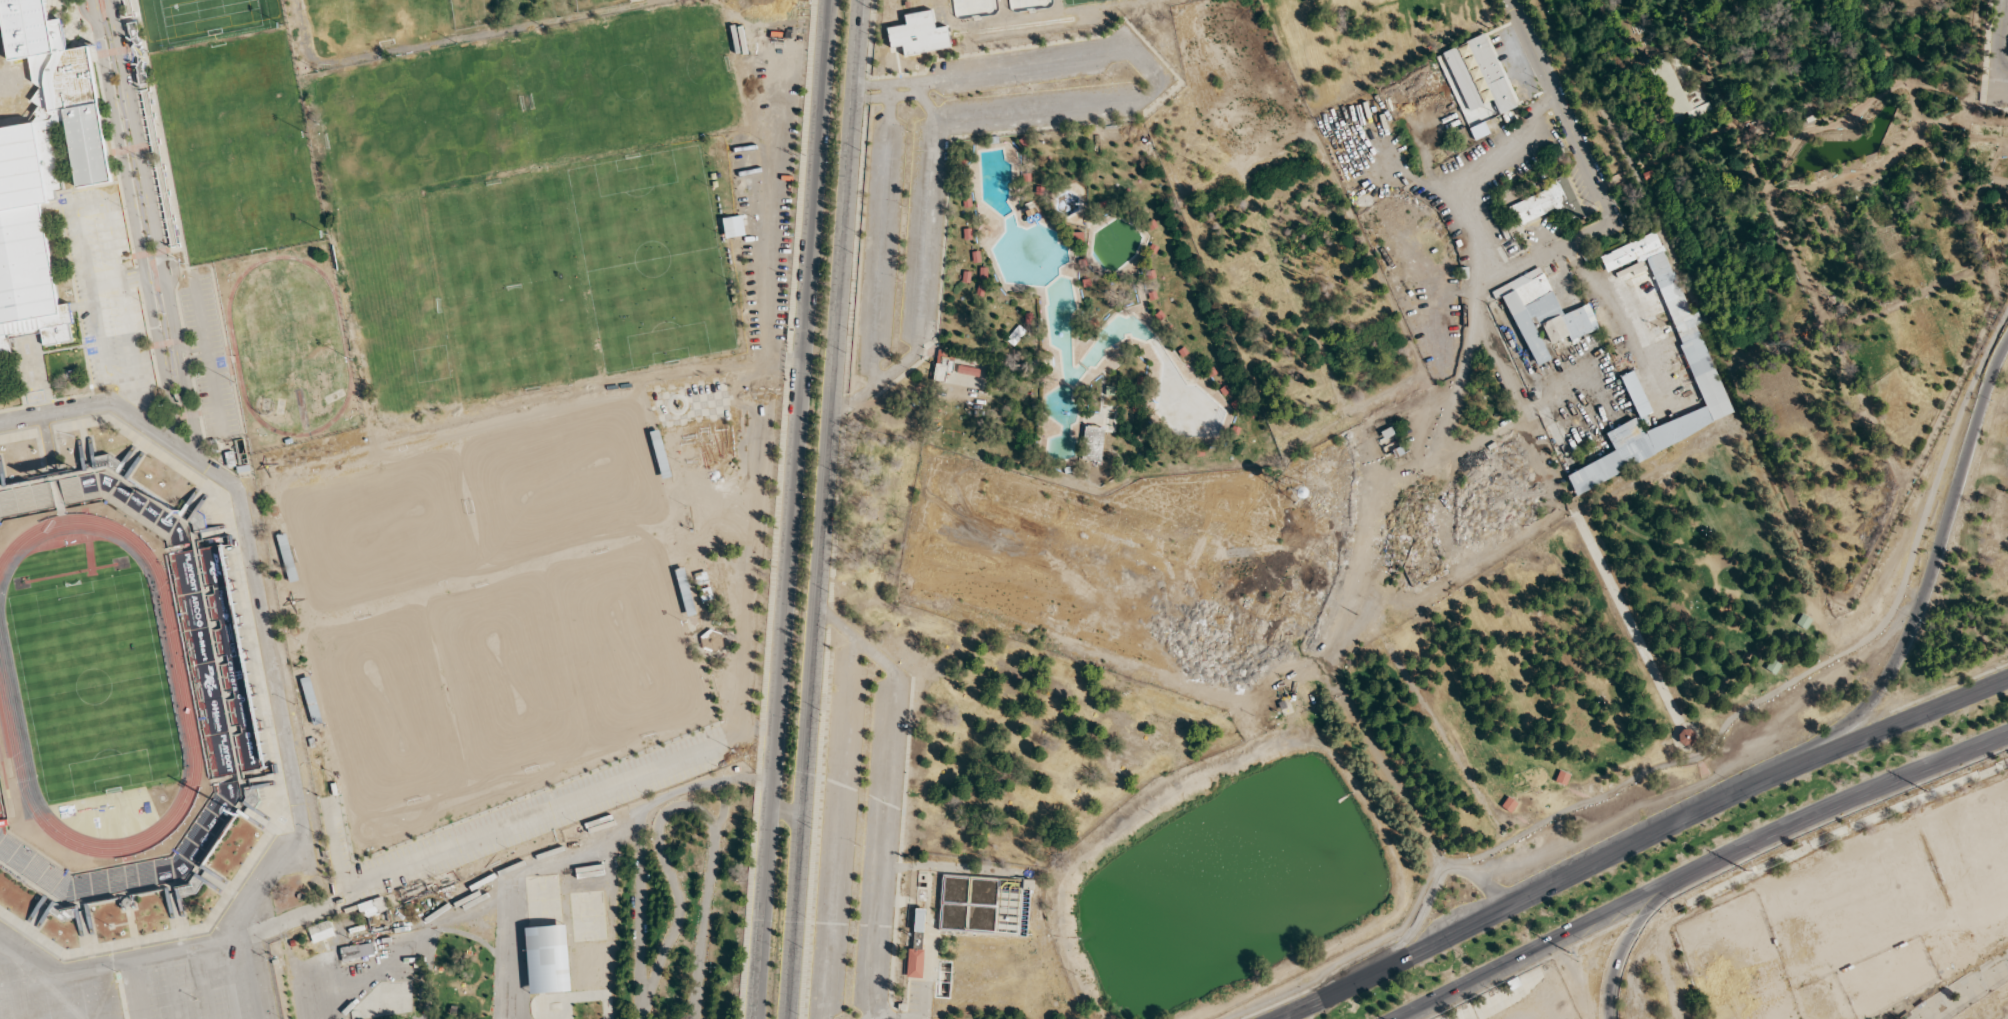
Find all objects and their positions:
road: (107, 1)
road: (84, 14)
park: (201, 20)
park: (370, 21)
park: (632, 77)
building: (58, 92)
park: (422, 115)
park: (237, 150)
parking lot: (770, 165)
road: (131, 220)
building: (27, 227)
building: (728, 227)
road: (154, 230)
road: (113, 234)
road: (79, 238)
parking lot: (905, 238)
park: (655, 256)
road: (175, 273)
road: (125, 280)
park: (510, 284)
park: (393, 301)
track: (285, 346)
road: (189, 349)
road: (188, 355)
parking lot: (202, 357)
road: (203, 357)
road: (191, 359)
road: (122, 376)
road: (86, 450)
road: (129, 457)
park: (1377, 462)
park: (566, 483)
park: (382, 532)
park: (624, 644)
park: (1589, 646)
building: (209, 656)
park: (506, 676)
park: (89, 679)
track: (92, 684)
stadium: (118, 693)
road: (265, 710)
park: (386, 711)
road: (278, 714)
parking lot: (863, 836)
road: (1638, 844)
road: (1698, 868)
park: (548, 956)
parking lot: (1659, 984)
parking lot: (161, 994)

